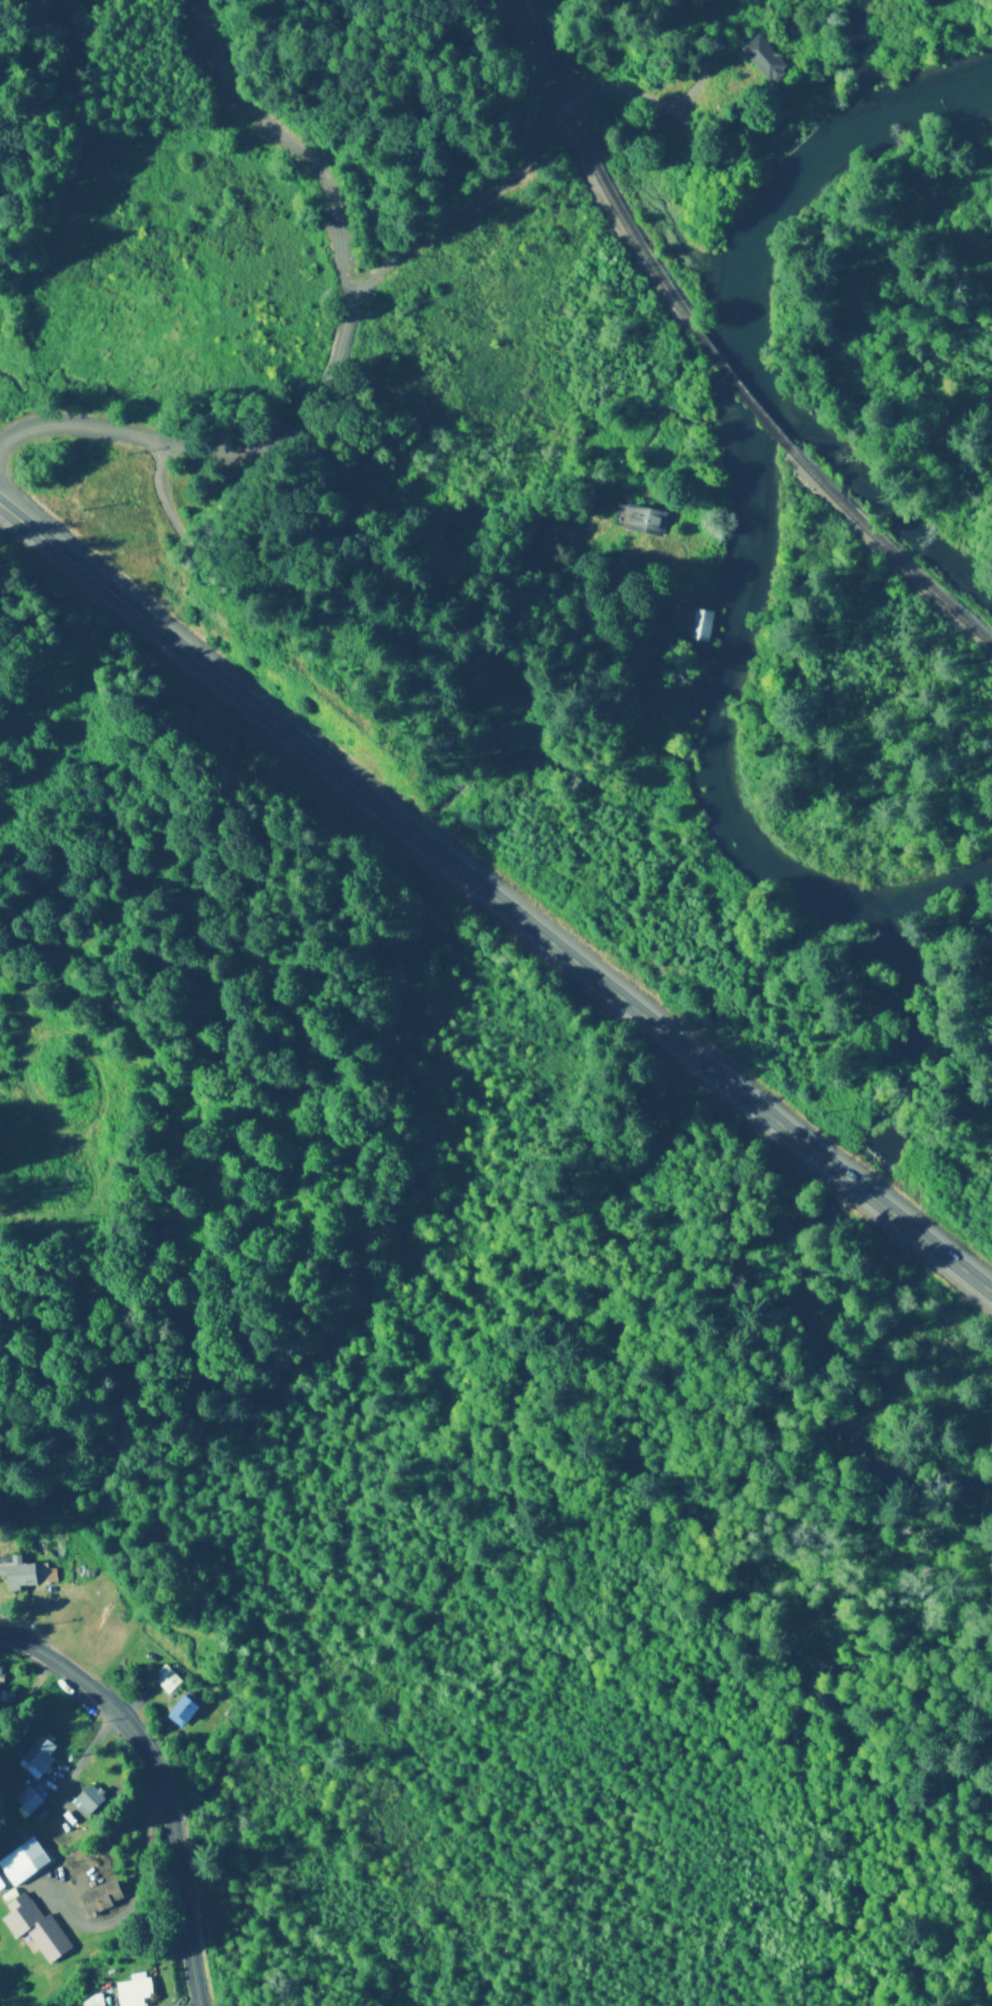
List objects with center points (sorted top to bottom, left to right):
building: (772, 58)
railway: (592, 175)
road: (324, 397)
railway: (746, 398)
building: (639, 520)
railway: (890, 557)
road: (396, 580)
building: (697, 621)
road: (496, 903)
road: (87, 979)
building: (26, 1575)
building: (168, 1681)
building: (185, 1712)
building: (41, 1755)
road: (79, 1781)
road: (162, 1781)
building: (27, 1800)
building: (94, 1801)
building: (23, 1864)
building: (104, 1900)
building: (34, 1929)
building: (134, 1992)

